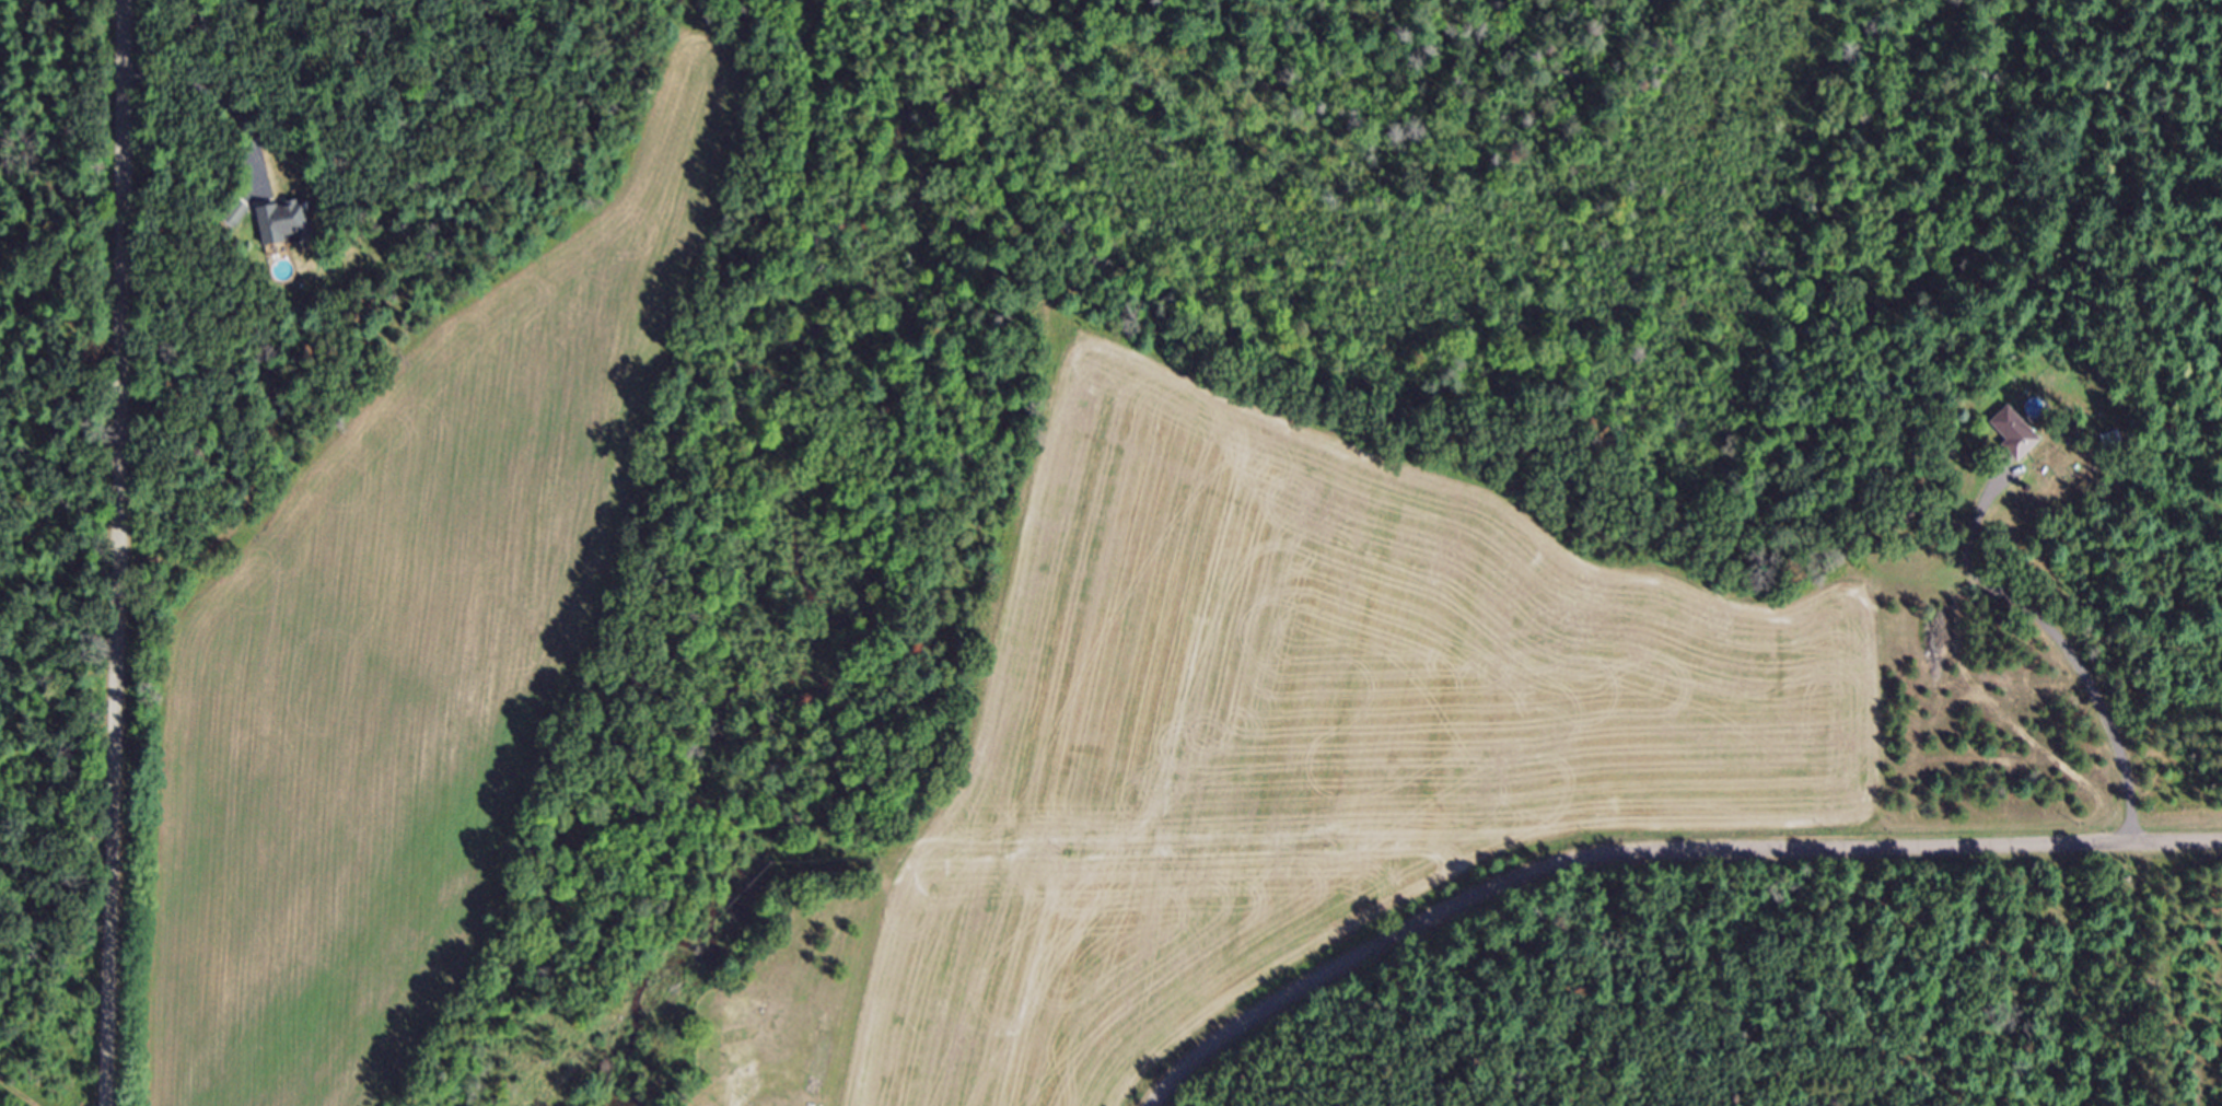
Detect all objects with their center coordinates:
building: (240, 220)
building: (287, 226)
building: (2019, 439)
road: (120, 552)
road: (2056, 636)
road: (1653, 850)
building: (824, 1062)

